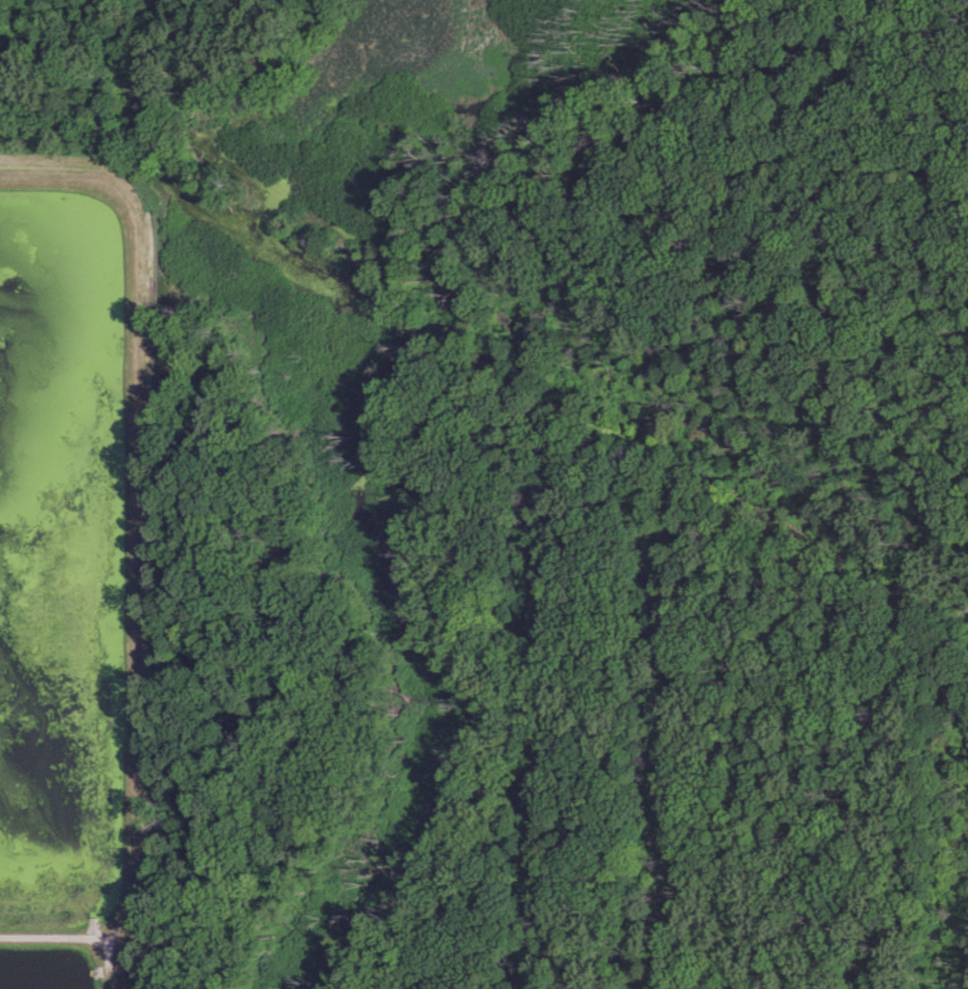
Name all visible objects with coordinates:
road: (53, 174)
wastewater plant: (70, 561)
road: (60, 935)
road: (116, 959)

